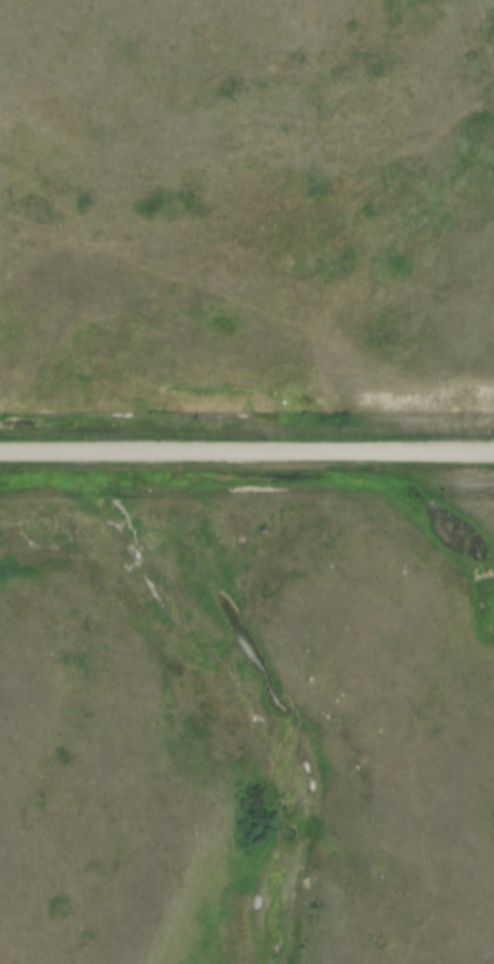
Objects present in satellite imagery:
road: (246, 448)

